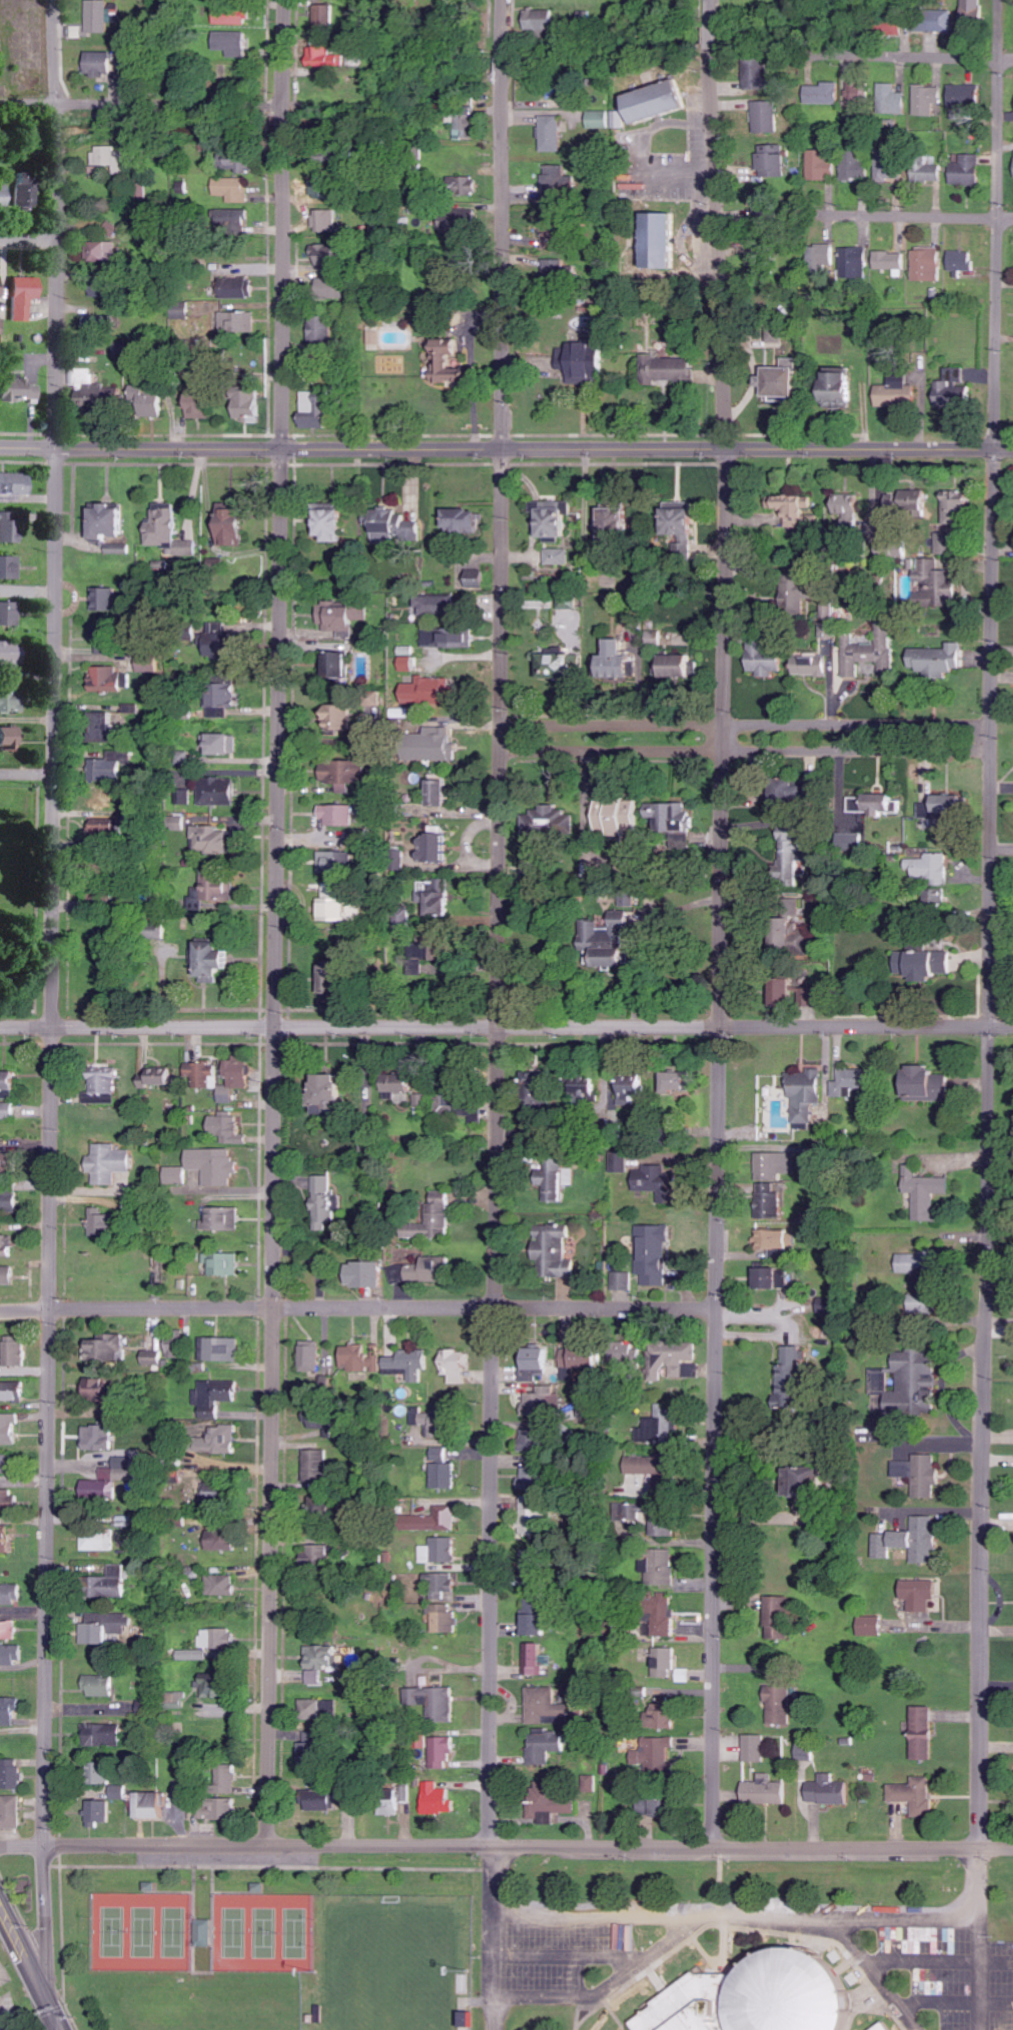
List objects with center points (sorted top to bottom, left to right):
building: (971, 9)
road: (711, 12)
building: (235, 15)
building: (100, 16)
building: (327, 17)
building: (541, 21)
building: (933, 21)
building: (887, 25)
road: (712, 33)
building: (236, 44)
road: (914, 55)
road: (288, 56)
road: (55, 57)
building: (102, 64)
building: (756, 74)
building: (858, 92)
building: (823, 93)
building: (962, 95)
building: (892, 99)
building: (926, 99)
road: (144, 105)
building: (647, 105)
road: (998, 109)
building: (765, 116)
building: (598, 119)
road: (288, 122)
building: (468, 125)
road: (57, 127)
building: (551, 133)
building: (112, 157)
building: (771, 161)
building: (821, 165)
building: (242, 166)
building: (855, 166)
building: (889, 167)
building: (926, 168)
building: (965, 170)
building: (558, 176)
building: (466, 185)
building: (235, 189)
building: (27, 193)
building: (4, 195)
road: (913, 216)
building: (241, 218)
building: (326, 221)
building: (461, 224)
road: (30, 235)
building: (653, 240)
building: (103, 252)
building: (328, 256)
building: (818, 258)
building: (887, 260)
building: (852, 262)
building: (958, 262)
building: (924, 263)
building: (552, 269)
building: (2, 287)
building: (241, 288)
building: (333, 288)
building: (100, 289)
building: (27, 297)
building: (240, 322)
building: (102, 324)
building: (2, 326)
building: (323, 333)
building: (575, 360)
building: (454, 364)
building: (665, 369)
building: (772, 381)
building: (831, 388)
building: (949, 389)
building: (19, 390)
building: (100, 390)
building: (893, 393)
building: (154, 399)
building: (250, 403)
building: (202, 406)
building: (318, 410)
road: (506, 447)
building: (15, 487)
building: (905, 501)
building: (789, 505)
building: (951, 507)
building: (844, 510)
building: (672, 518)
building: (556, 520)
building: (609, 520)
building: (113, 521)
building: (470, 521)
building: (337, 525)
building: (12, 526)
building: (394, 527)
building: (238, 528)
building: (172, 533)
building: (942, 543)
building: (681, 550)
building: (556, 557)
building: (219, 565)
building: (10, 568)
building: (476, 579)
building: (604, 581)
building: (935, 582)
building: (791, 596)
building: (108, 600)
building: (442, 606)
building: (9, 614)
building: (345, 615)
building: (111, 637)
building: (433, 637)
building: (652, 637)
building: (461, 641)
building: (232, 645)
building: (12, 654)
building: (863, 654)
building: (761, 660)
building: (935, 660)
building: (607, 661)
building: (152, 663)
building: (410, 664)
building: (343, 666)
building: (553, 666)
building: (673, 666)
building: (809, 666)
building: (111, 680)
building: (433, 691)
building: (227, 700)
building: (12, 702)
building: (345, 719)
road: (743, 723)
building: (108, 727)
building: (10, 739)
building: (228, 745)
building: (444, 745)
road: (744, 750)
building: (119, 766)
building: (344, 773)
road: (26, 774)
building: (784, 790)
building: (225, 792)
building: (445, 794)
building: (872, 804)
building: (938, 805)
building: (341, 816)
building: (613, 816)
building: (670, 820)
building: (545, 821)
building: (848, 841)
building: (217, 842)
building: (439, 849)
building: (786, 858)
building: (334, 863)
building: (928, 868)
building: (224, 887)
building: (933, 897)
building: (343, 903)
building: (443, 903)
road: (496, 922)
building: (789, 928)
building: (598, 943)
road: (720, 944)
building: (429, 954)
building: (218, 959)
building: (920, 964)
building: (342, 972)
road: (275, 987)
building: (778, 988)
road: (49, 992)
road: (506, 1027)
road: (989, 1032)
building: (207, 1074)
building: (161, 1076)
building: (239, 1077)
building: (12, 1080)
building: (116, 1080)
building: (671, 1080)
building: (846, 1083)
building: (404, 1084)
building: (921, 1084)
building: (580, 1088)
building: (628, 1088)
building: (803, 1092)
building: (338, 1093)
building: (461, 1103)
building: (9, 1110)
building: (230, 1129)
building: (617, 1161)
building: (10, 1162)
building: (116, 1163)
building: (774, 1164)
building: (217, 1165)
building: (176, 1174)
building: (554, 1179)
building: (647, 1179)
building: (923, 1193)
building: (328, 1199)
building: (10, 1200)
building: (439, 1216)
building: (226, 1219)
building: (107, 1222)
building: (768, 1239)
building: (8, 1242)
building: (550, 1250)
building: (651, 1253)
building: (910, 1262)
building: (226, 1264)
building: (426, 1271)
building: (372, 1274)
building: (8, 1275)
building: (768, 1278)
building: (621, 1280)
building: (920, 1305)
road: (357, 1308)
building: (112, 1347)
building: (179, 1347)
building: (222, 1349)
building: (17, 1351)
building: (624, 1351)
building: (156, 1352)
building: (313, 1356)
building: (363, 1357)
building: (579, 1358)
building: (672, 1359)
building: (791, 1363)
building: (411, 1364)
building: (530, 1364)
building: (458, 1365)
building: (906, 1382)
building: (15, 1391)
building: (109, 1393)
building: (217, 1396)
building: (541, 1400)
building: (436, 1418)
building: (321, 1421)
building: (658, 1427)
building: (10, 1429)
building: (102, 1437)
building: (225, 1439)
building: (442, 1454)
building: (8, 1464)
building: (644, 1465)
building: (316, 1466)
building: (918, 1474)
building: (446, 1476)
building: (527, 1479)
building: (796, 1480)
building: (107, 1484)
building: (9, 1500)
building: (532, 1512)
building: (627, 1512)
building: (444, 1519)
building: (662, 1525)
building: (7, 1538)
building: (100, 1539)
building: (225, 1540)
building: (910, 1540)
building: (442, 1551)
building: (319, 1555)
building: (659, 1565)
building: (118, 1582)
building: (224, 1585)
building: (443, 1585)
building: (917, 1593)
building: (12, 1594)
building: (659, 1614)
building: (775, 1617)
building: (445, 1618)
building: (532, 1620)
building: (868, 1625)
building: (109, 1626)
building: (9, 1630)
building: (217, 1643)
building: (13, 1654)
building: (324, 1658)
building: (535, 1659)
building: (662, 1662)
building: (218, 1685)
building: (102, 1686)
building: (443, 1704)
building: (777, 1705)
building: (546, 1706)
building: (321, 1709)
building: (9, 1712)
building: (657, 1713)
building: (920, 1732)
building: (106, 1735)
building: (543, 1745)
building: (753, 1748)
building: (318, 1751)
building: (444, 1752)
building: (651, 1753)
building: (803, 1753)
building: (110, 1772)
building: (15, 1774)
building: (231, 1781)
building: (588, 1783)
building: (825, 1790)
building: (761, 1791)
building: (122, 1792)
building: (913, 1796)
building: (325, 1800)
building: (441, 1800)
building: (156, 1805)
building: (546, 1805)
building: (649, 1808)
building: (219, 1809)
building: (12, 1812)
building: (102, 1812)
road: (506, 1844)
road: (44, 1921)
park: (114, 1932)
park: (145, 1932)
park: (175, 1932)
building: (208, 1933)
park: (235, 1933)
park: (266, 1933)
park: (296, 1934)
road: (980, 1938)
road: (30, 1969)
park: (390, 1971)
building: (748, 1997)
traffic signals: (45, 1998)
traffic signals: (53, 2014)
building: (464, 2019)
road: (52, 2022)
building: (876, 2027)

